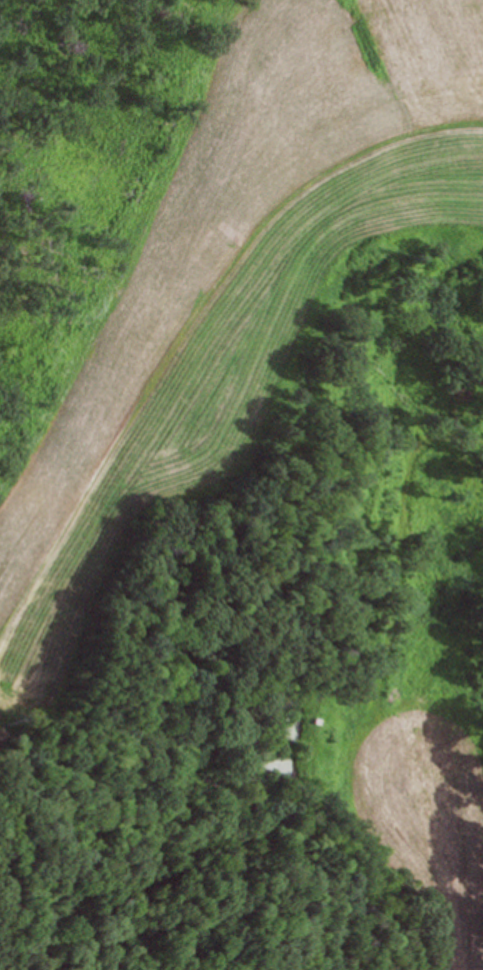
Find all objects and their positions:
crop: (231, 300)
crop: (429, 821)

